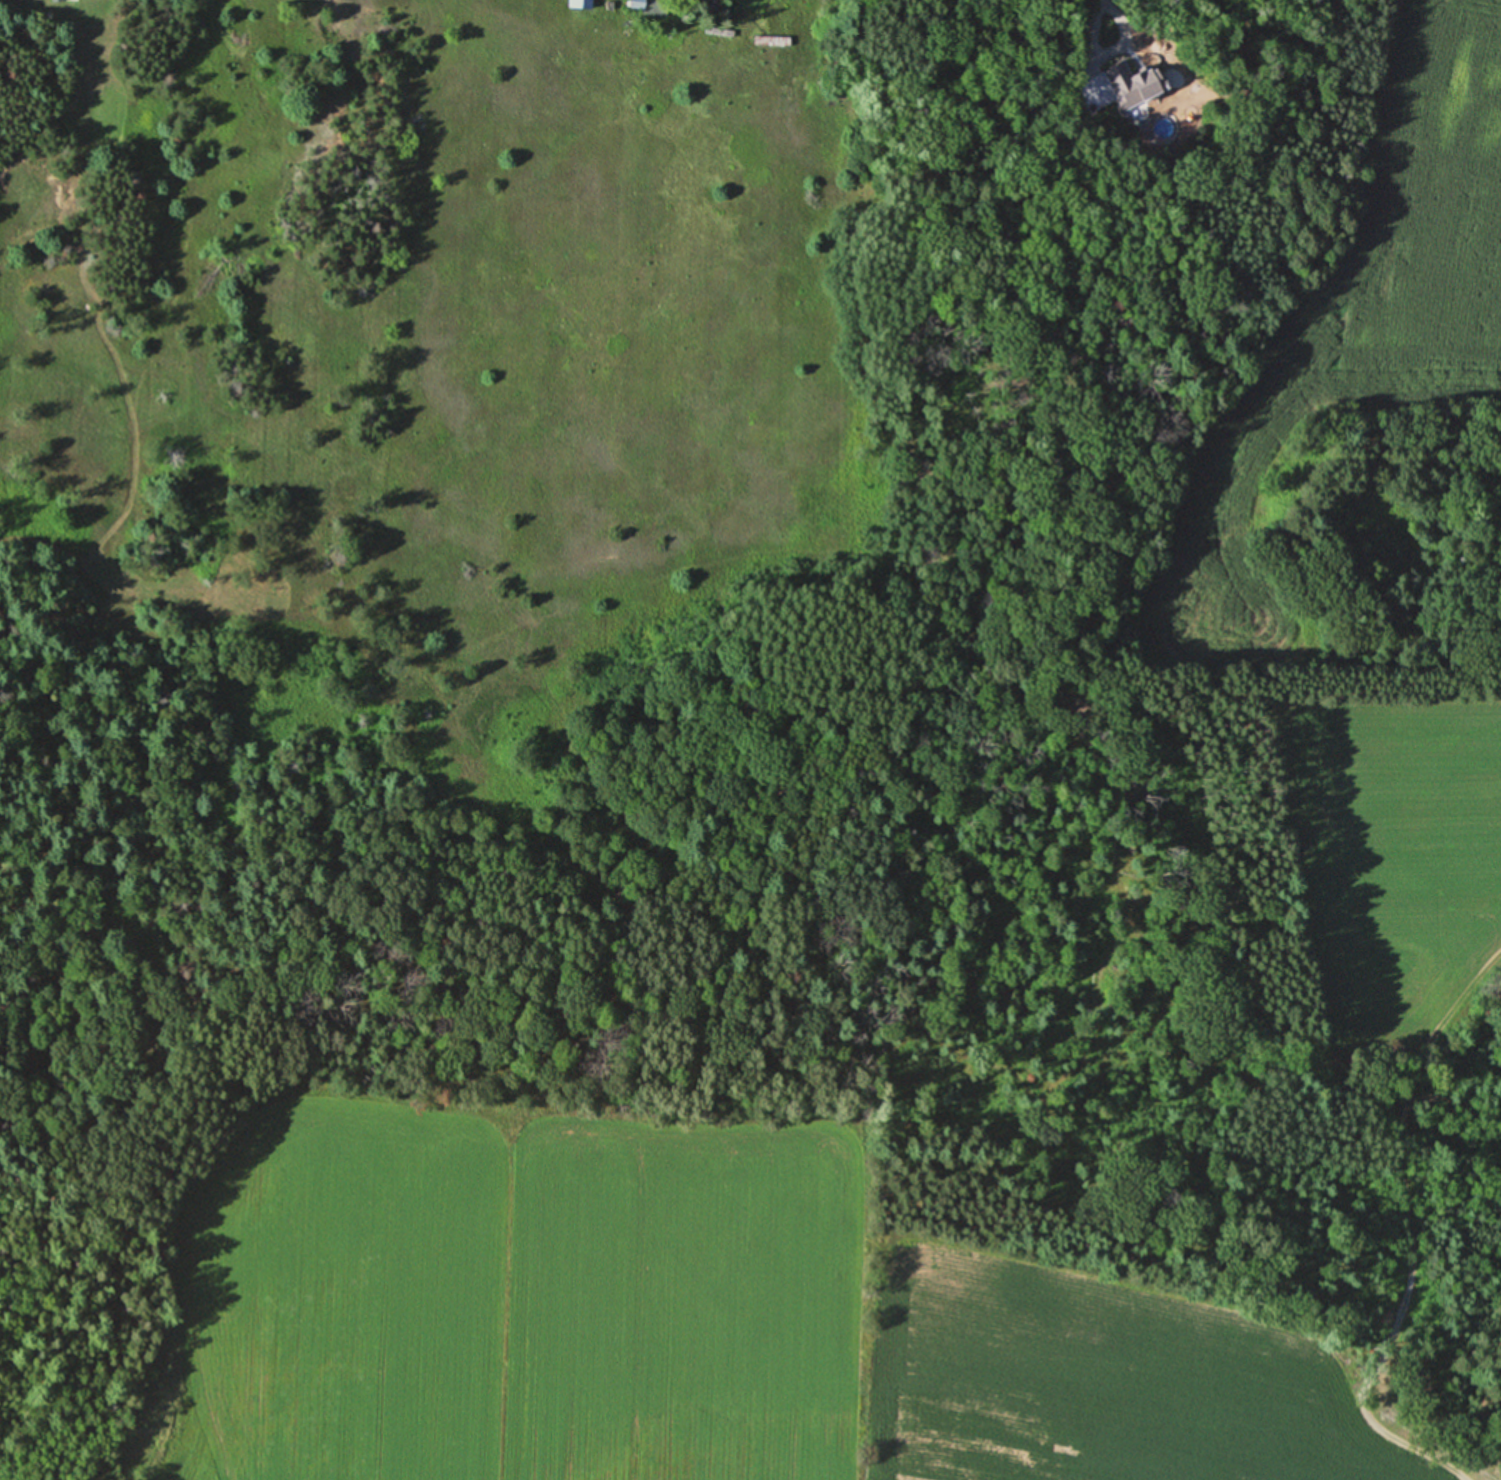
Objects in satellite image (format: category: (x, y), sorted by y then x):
building: (580, 2)

